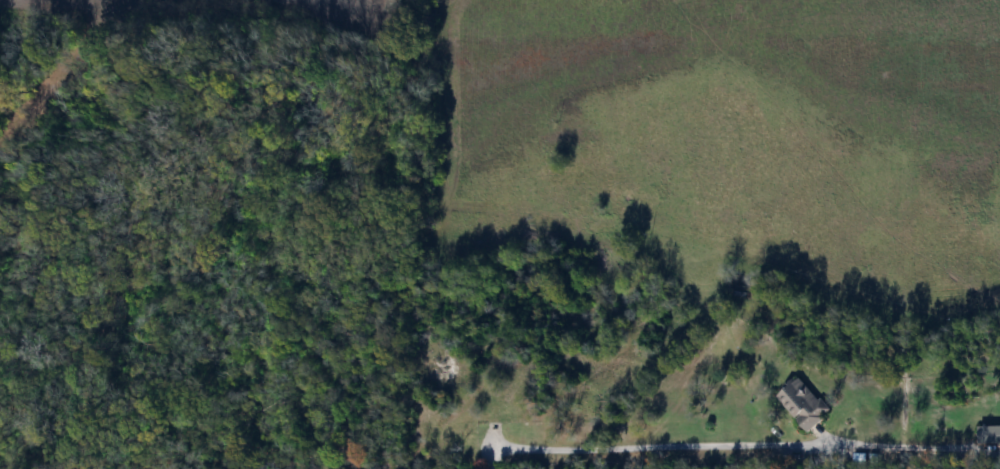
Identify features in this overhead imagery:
building: (799, 403)
building: (987, 430)
road: (971, 445)
road: (707, 447)

